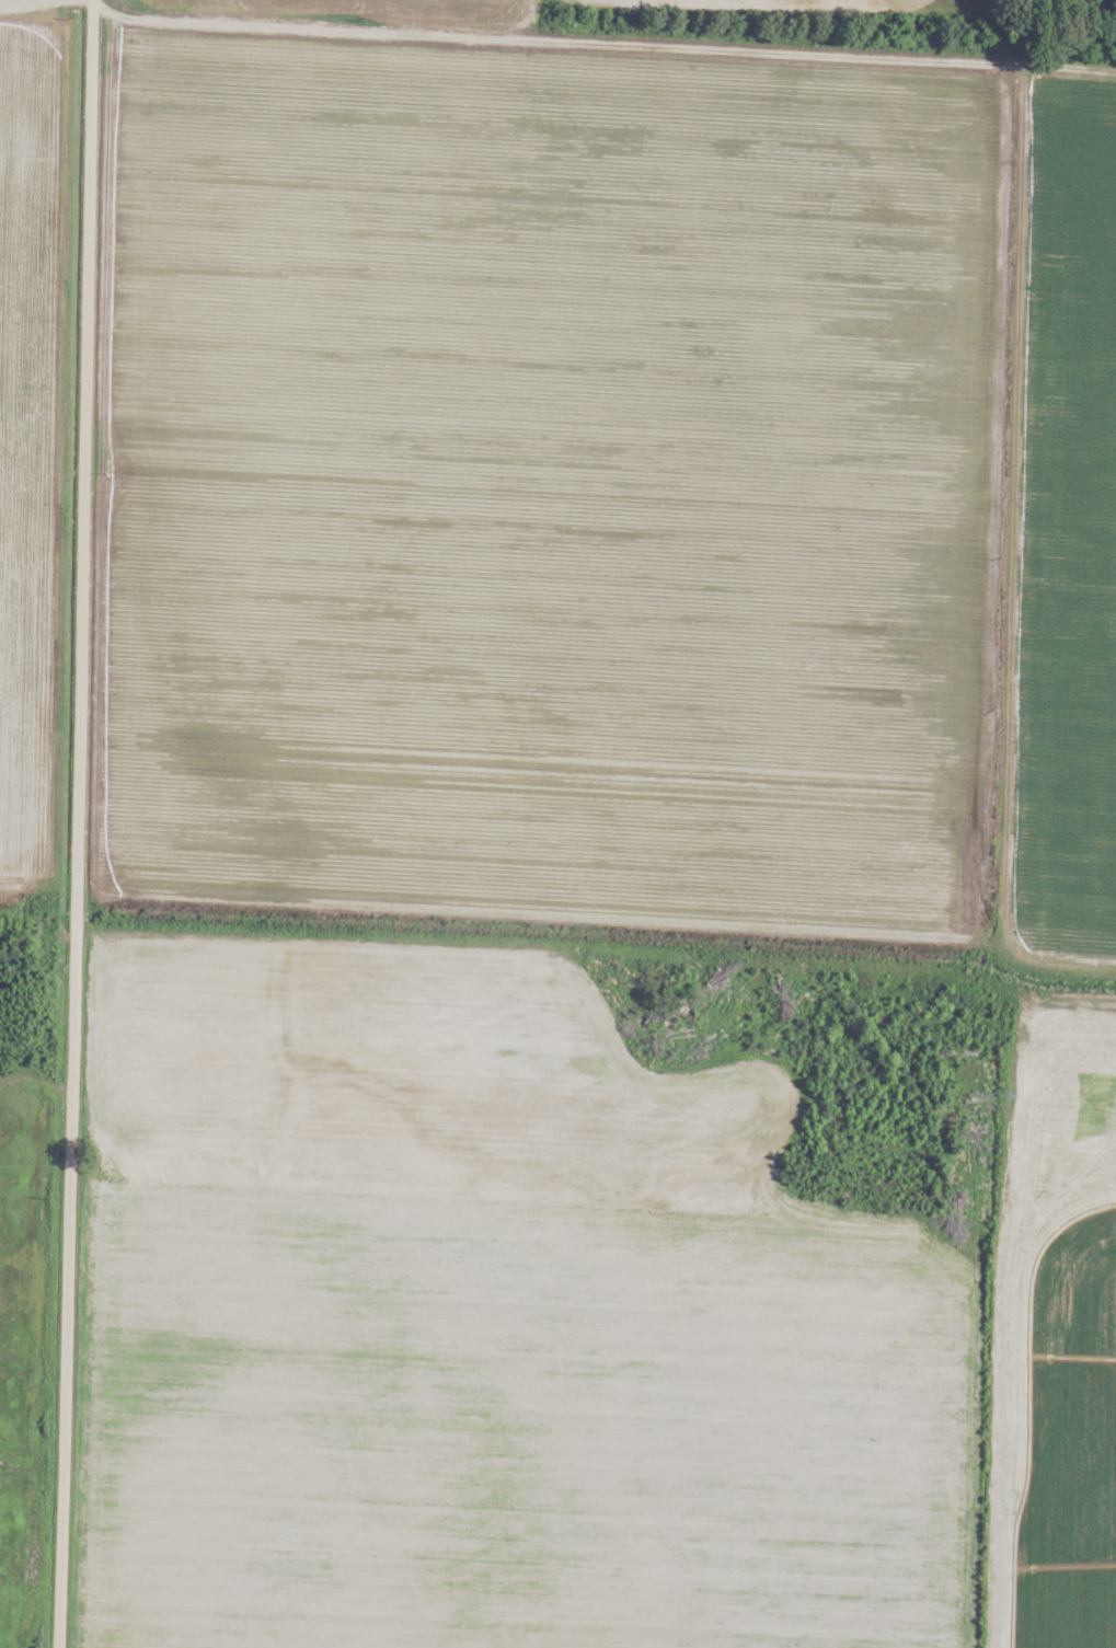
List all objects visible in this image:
road: (77, 823)
road: (597, 949)

